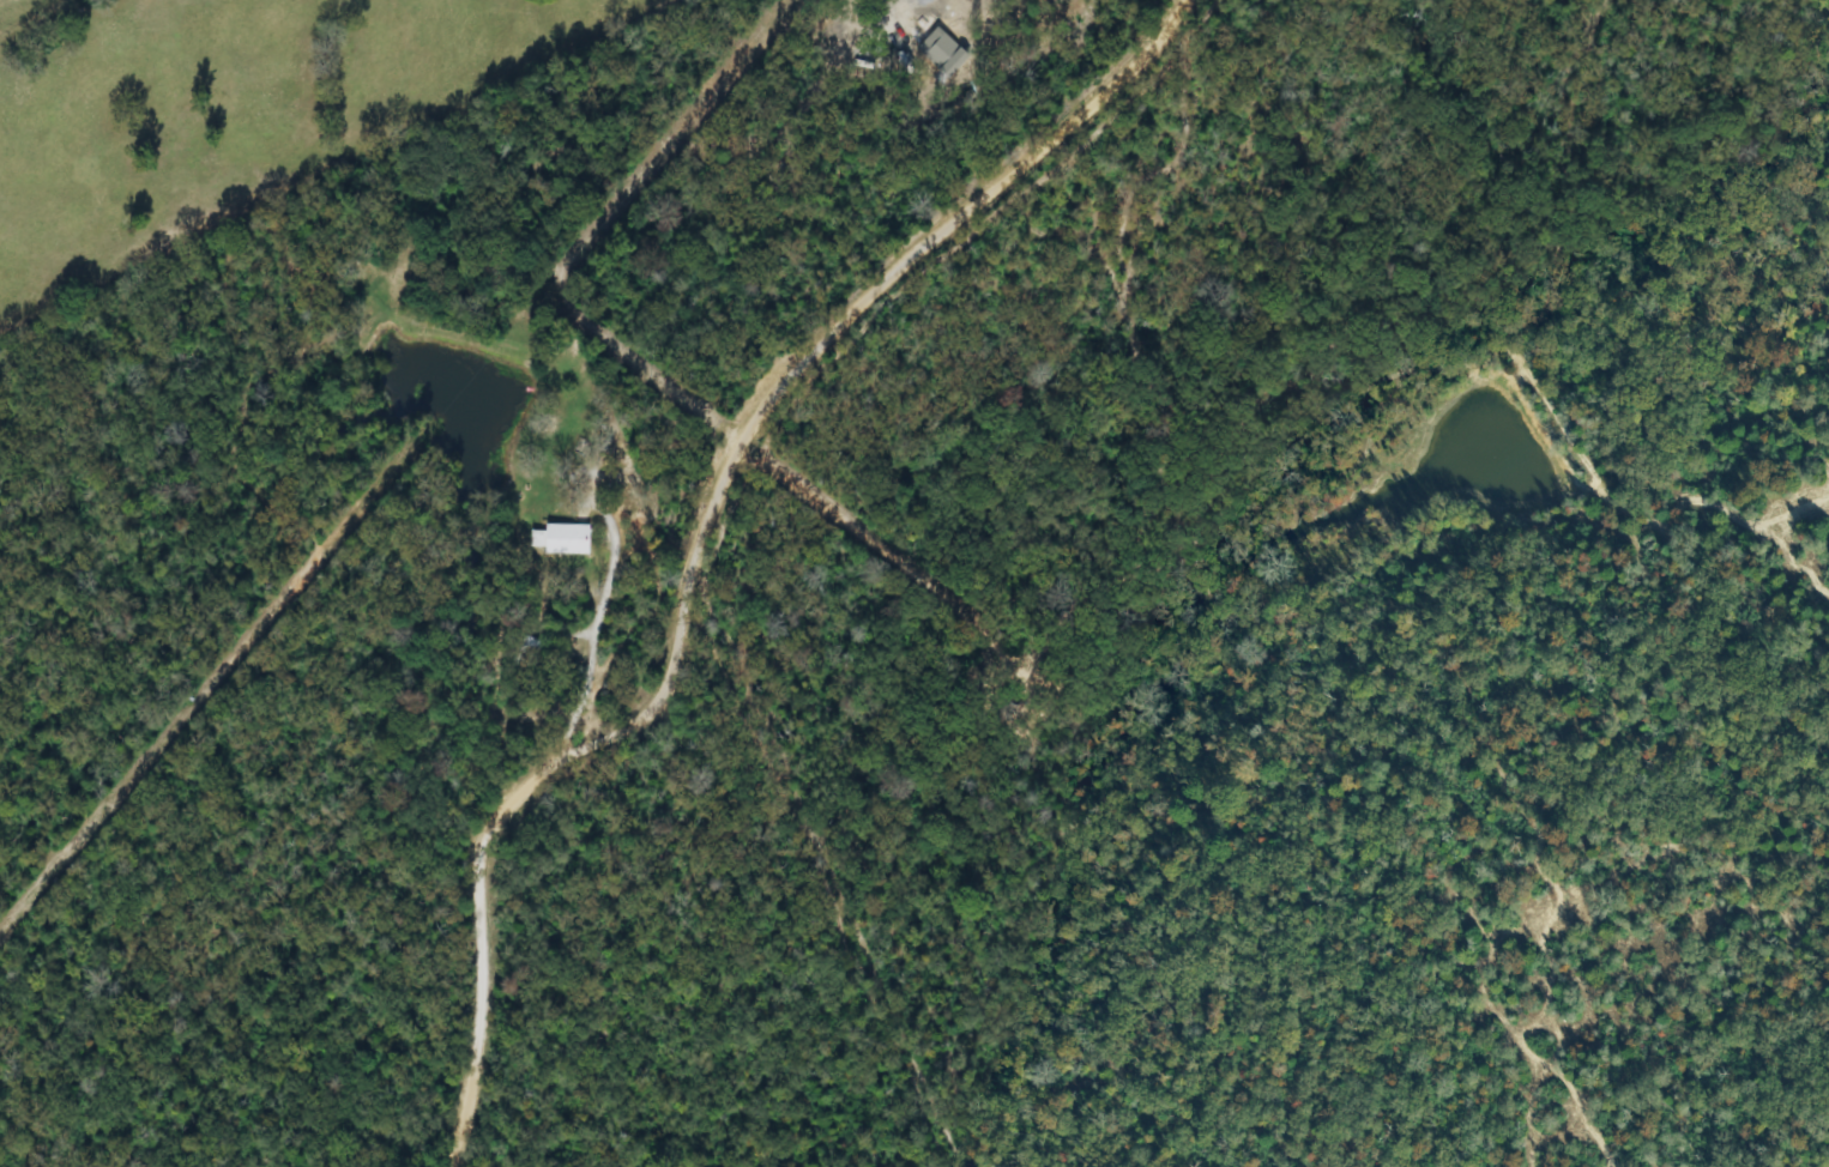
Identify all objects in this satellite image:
building: (565, 539)
road: (726, 542)

